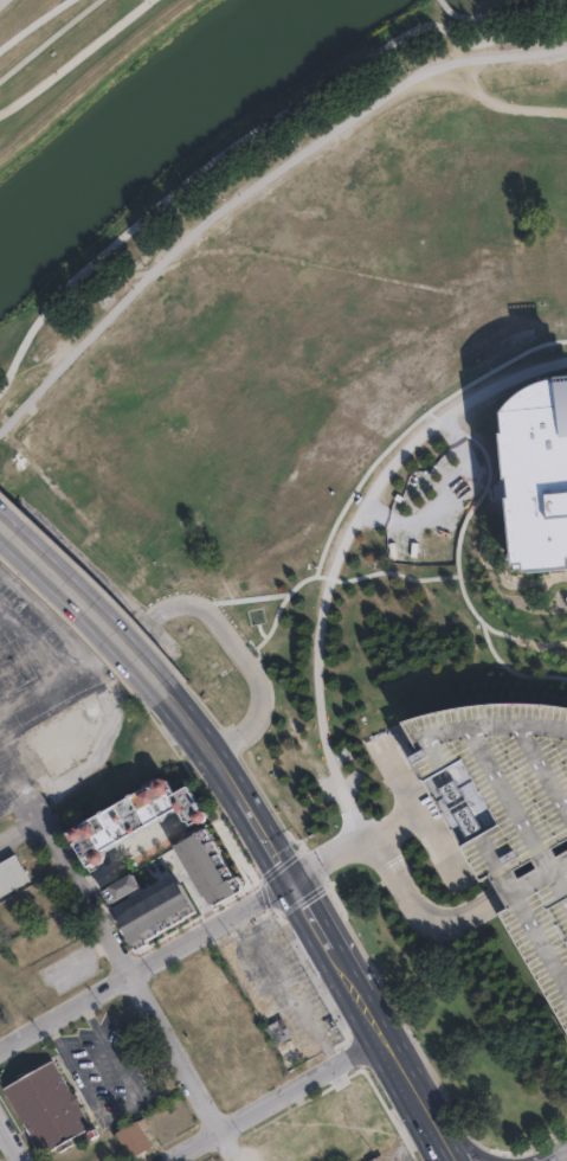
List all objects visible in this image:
road: (539, 5)
road: (450, 9)
road: (487, 15)
road: (50, 30)
road: (505, 30)
road: (52, 38)
road: (530, 40)
road: (439, 64)
road: (502, 89)
river: (147, 110)
park: (193, 130)
road: (219, 158)
road: (225, 204)
park: (392, 235)
road: (371, 468)
building: (536, 469)
road: (456, 559)
road: (387, 571)
road: (86, 605)
road: (2, 617)
road: (211, 618)
road: (32, 641)
parking lot: (50, 643)
road: (19, 658)
road: (32, 692)
building: (67, 737)
road: (1, 748)
road: (210, 753)
road: (19, 776)
road: (33, 802)
road: (415, 812)
building: (507, 813)
parking garage: (507, 813)
building: (133, 816)
road: (20, 829)
road: (352, 845)
road: (270, 848)
road: (128, 852)
building: (12, 875)
traffic signals: (290, 880)
road: (418, 910)
road: (314, 923)
road: (144, 964)
road: (140, 989)
building: (276, 1029)
road: (382, 1047)
building: (288, 1053)
building: (238, 1075)
road: (270, 1099)
building: (47, 1108)
building: (135, 1140)
road: (9, 1143)
road: (436, 1144)
road: (458, 1144)
building: (380, 1159)

